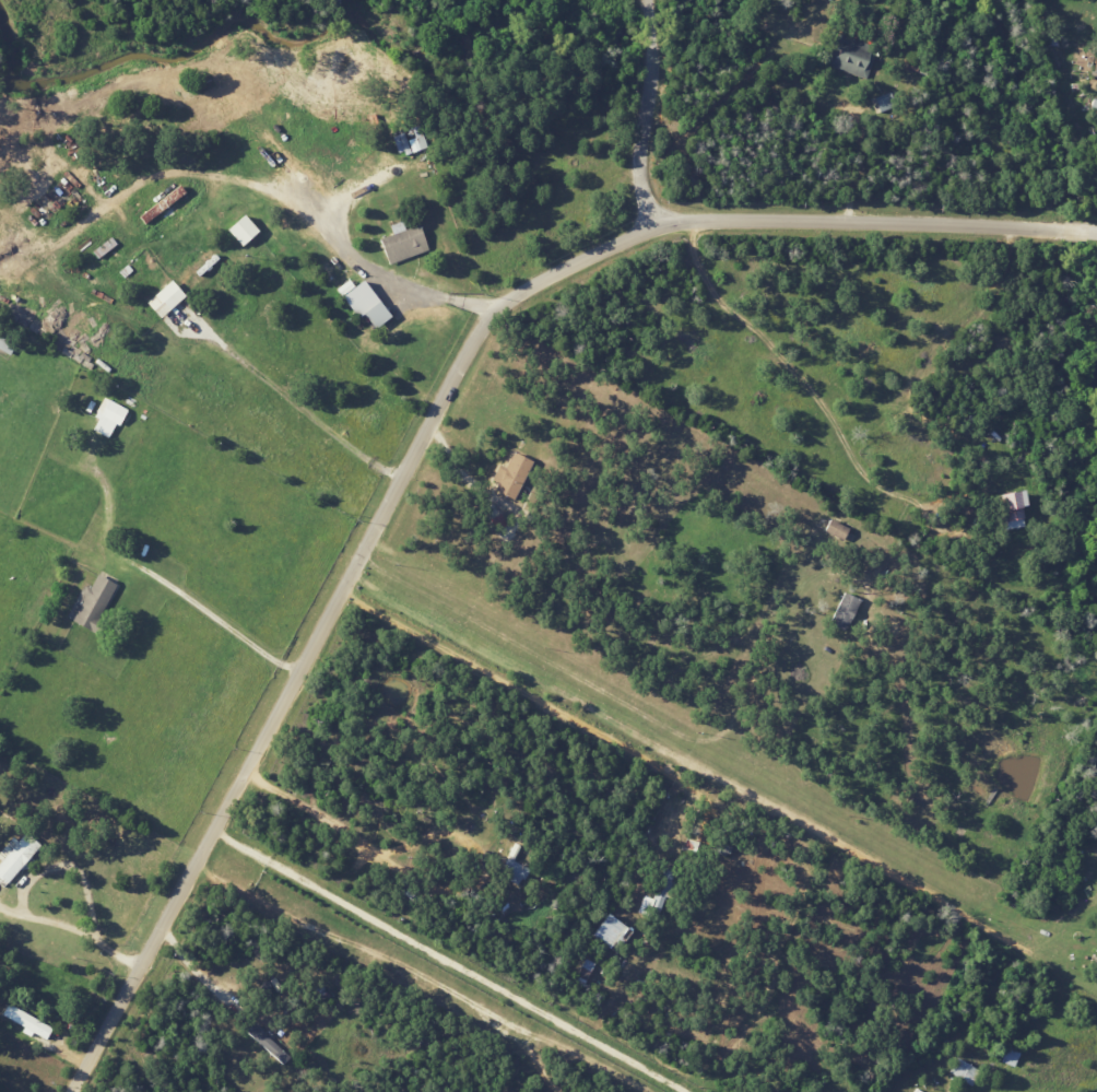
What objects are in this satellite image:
building: (853, 57)
building: (883, 102)
road: (646, 115)
building: (409, 142)
road: (852, 161)
building: (161, 203)
building: (239, 230)
building: (401, 242)
building: (103, 247)
road: (357, 261)
building: (163, 300)
building: (363, 304)
road: (810, 392)
road: (293, 407)
building: (107, 418)
road: (433, 426)
building: (508, 474)
building: (1012, 509)
building: (93, 602)
building: (842, 612)
road: (215, 621)
road: (520, 692)
road: (617, 701)
road: (705, 766)
road: (362, 841)
building: (16, 856)
building: (512, 871)
building: (654, 896)
building: (606, 930)
road: (450, 963)
road: (198, 971)
building: (28, 1022)
building: (267, 1043)
building: (1010, 1056)
building: (963, 1071)

